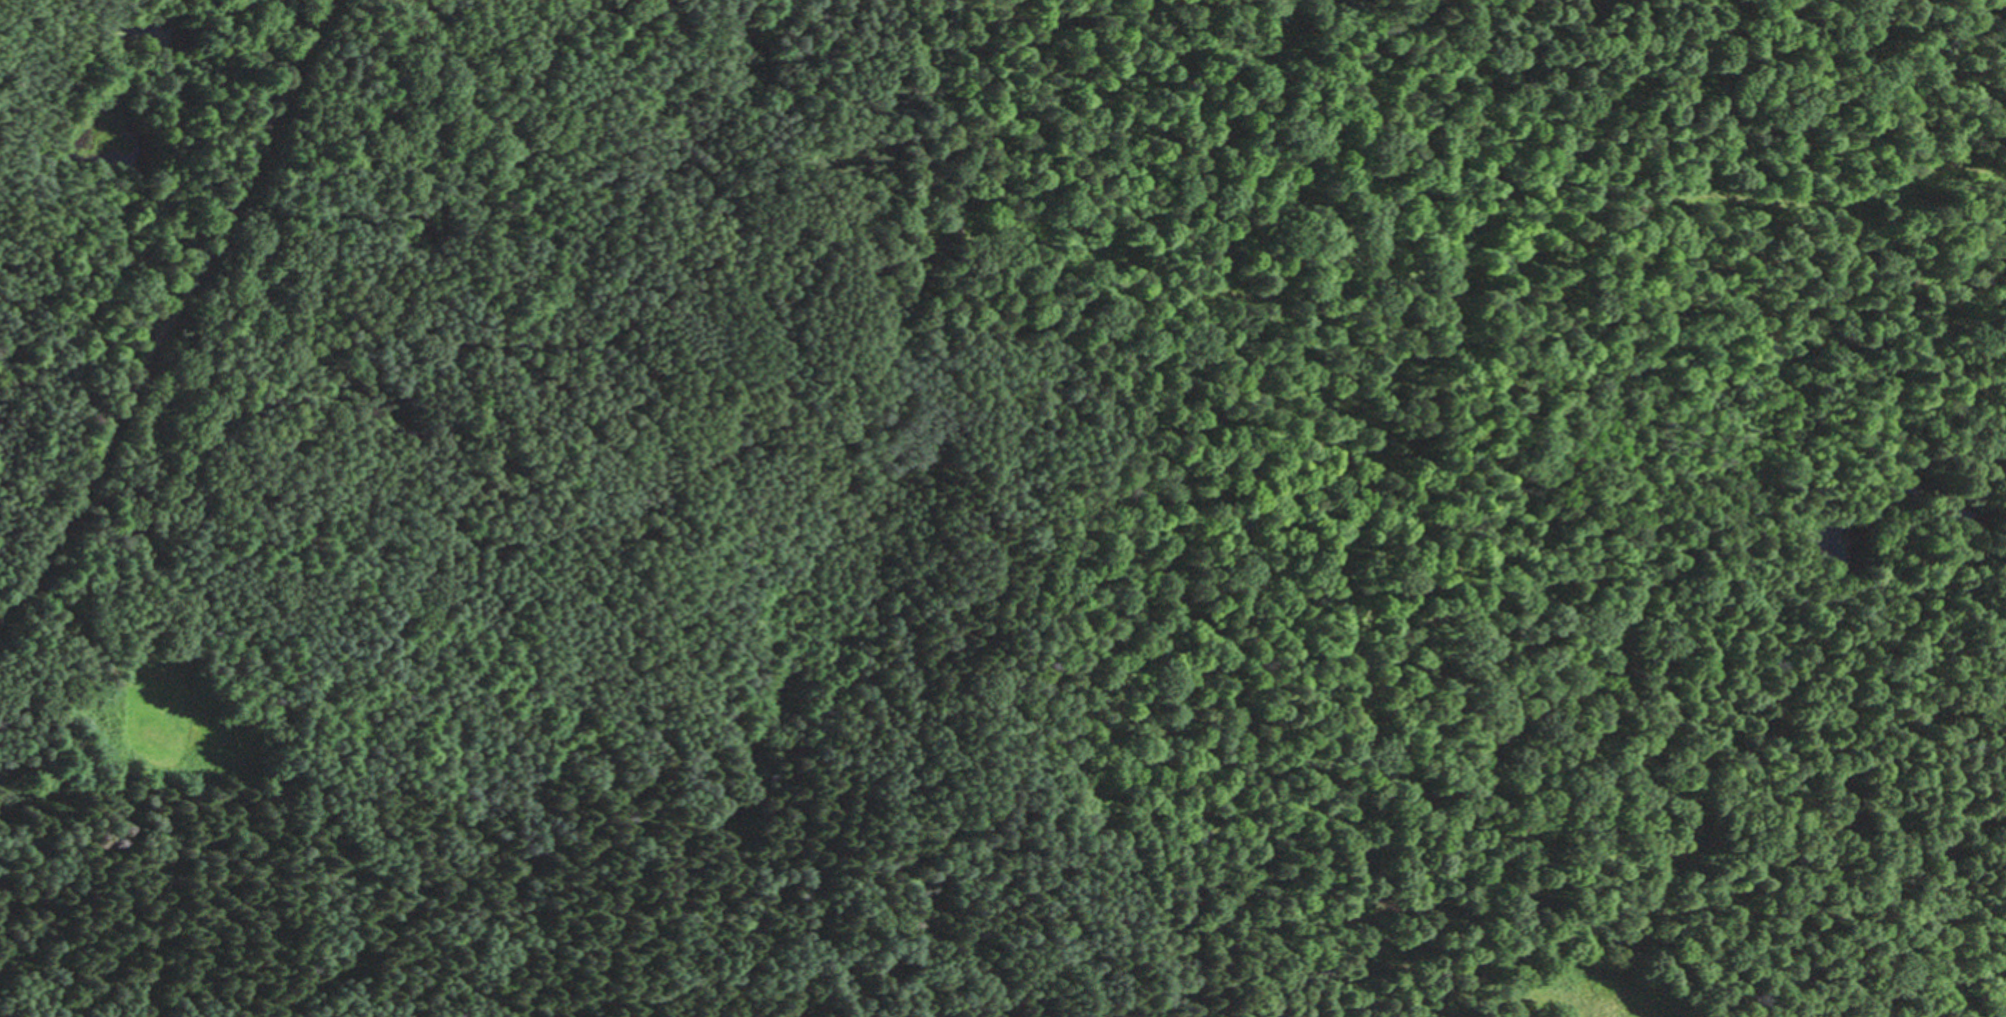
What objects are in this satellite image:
road: (1841, 119)
road: (182, 318)

